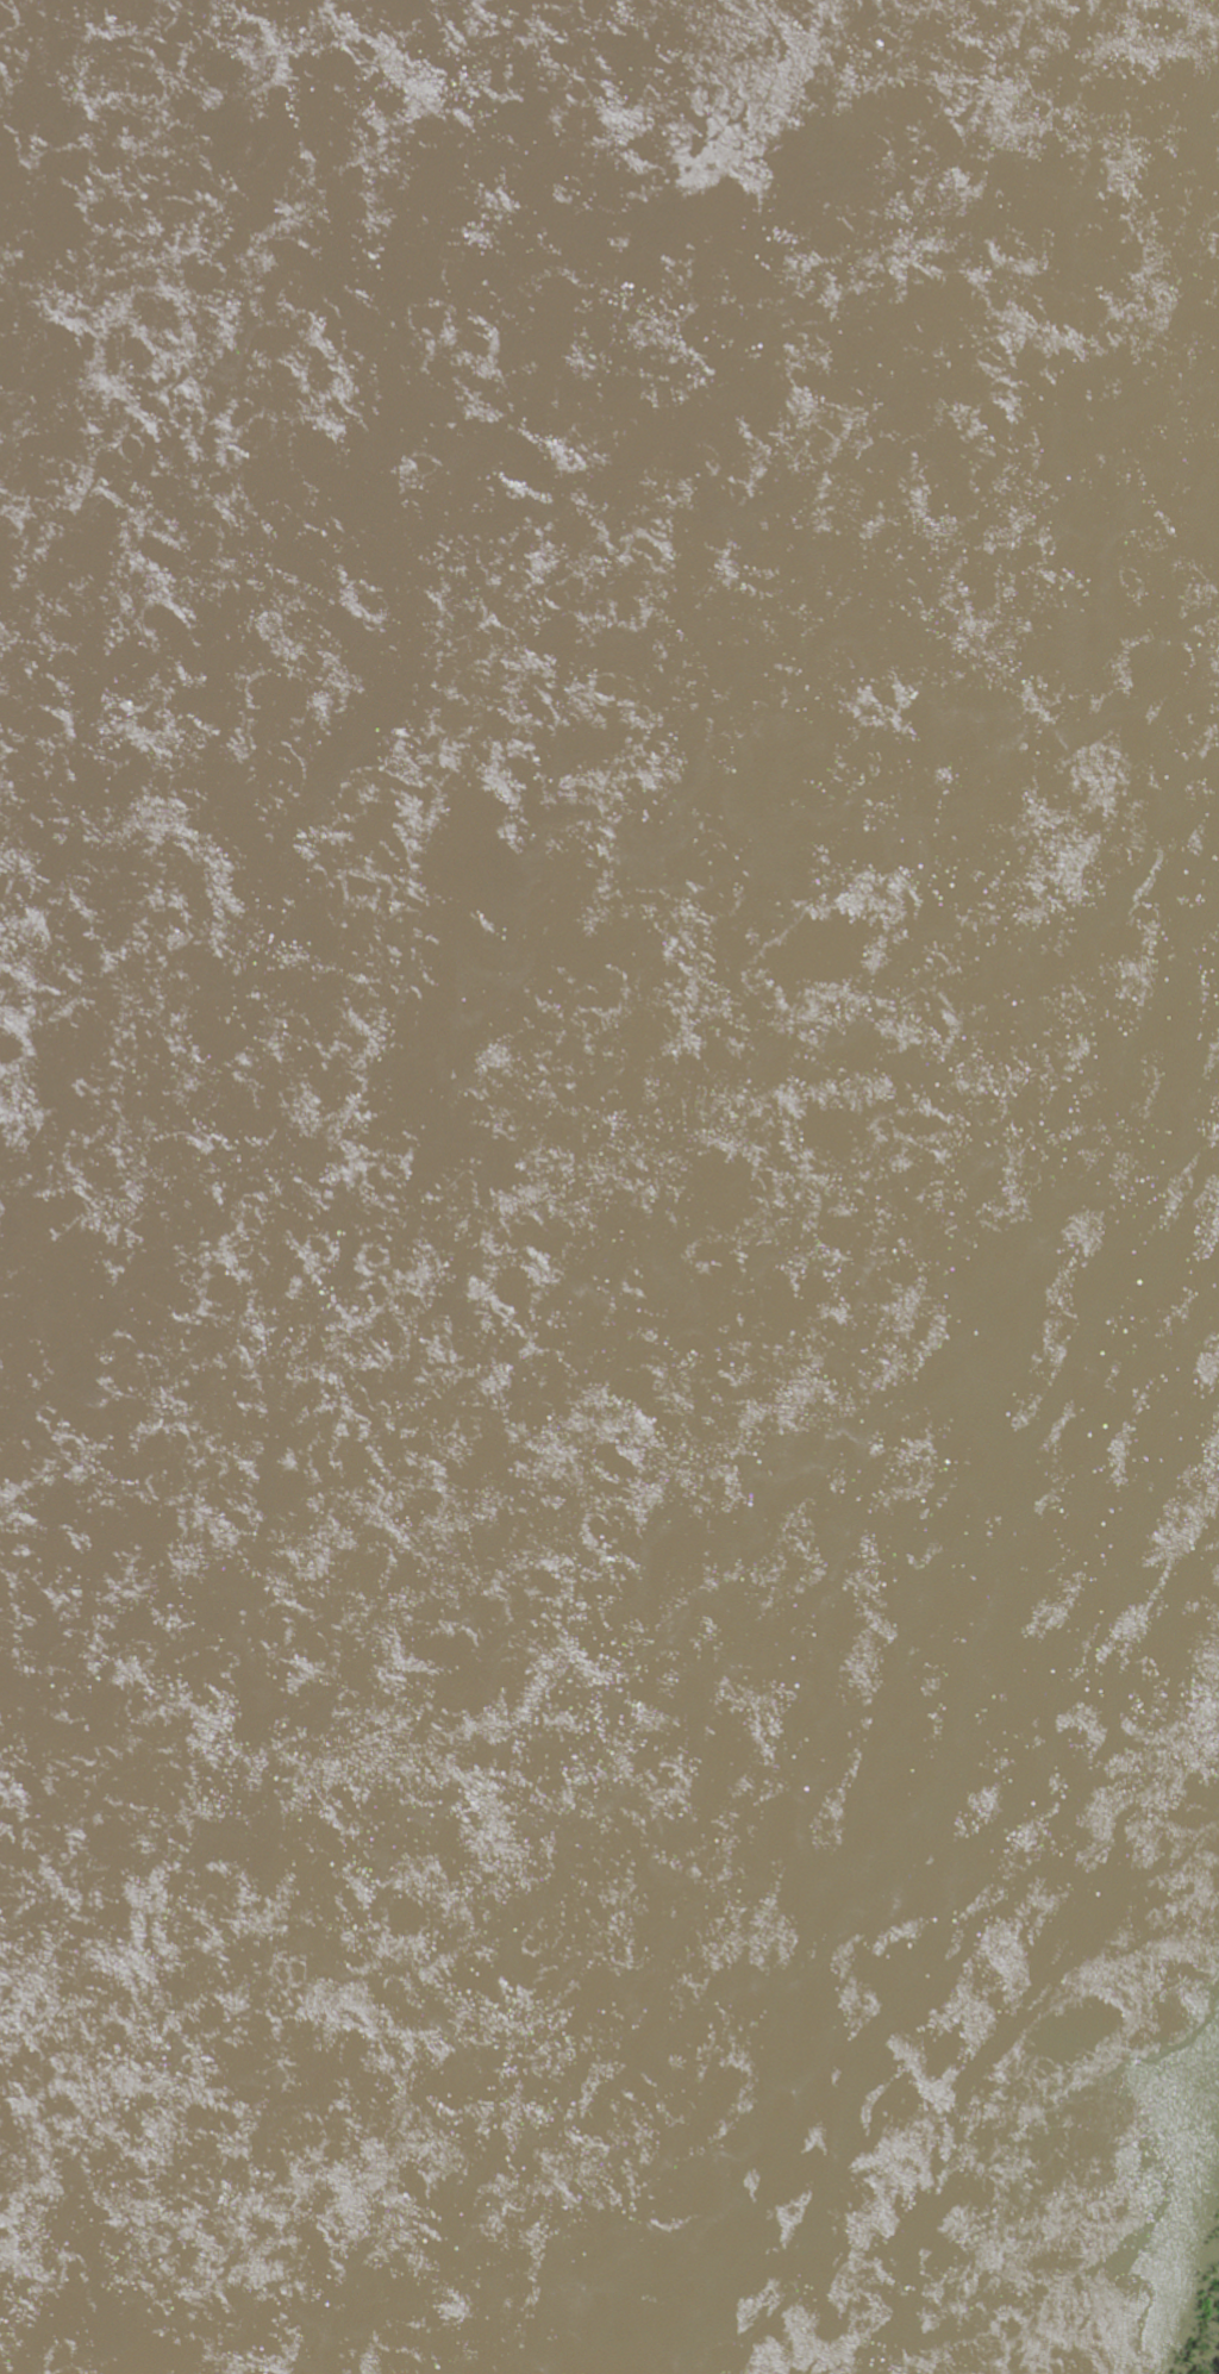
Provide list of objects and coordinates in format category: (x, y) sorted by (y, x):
river: (390, 763)

